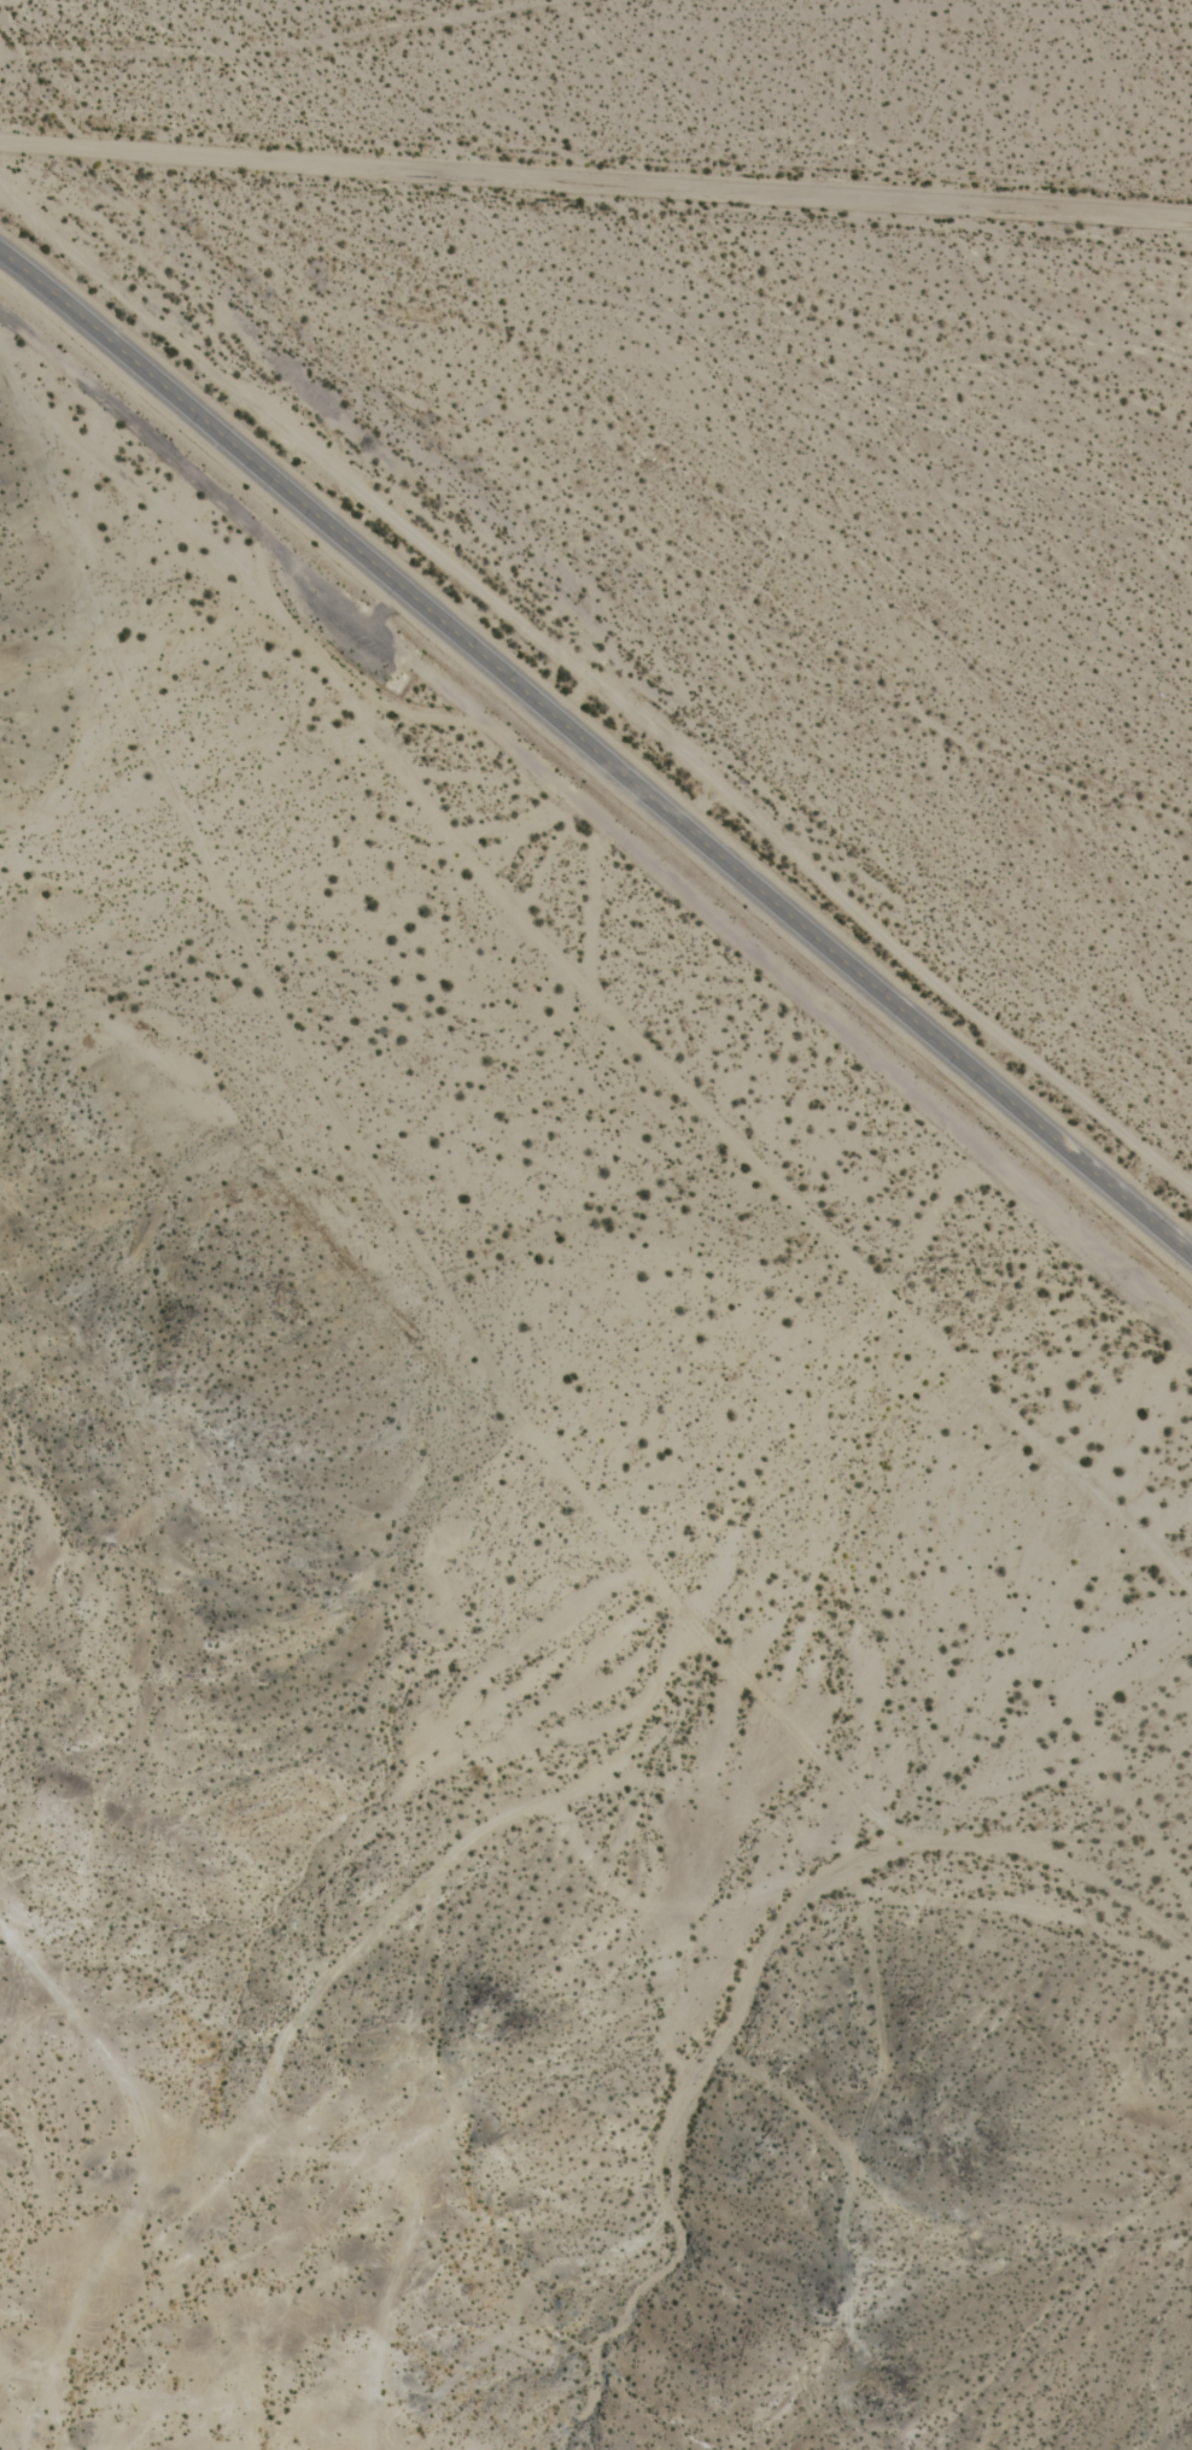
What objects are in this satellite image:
road: (596, 182)
road: (597, 752)

